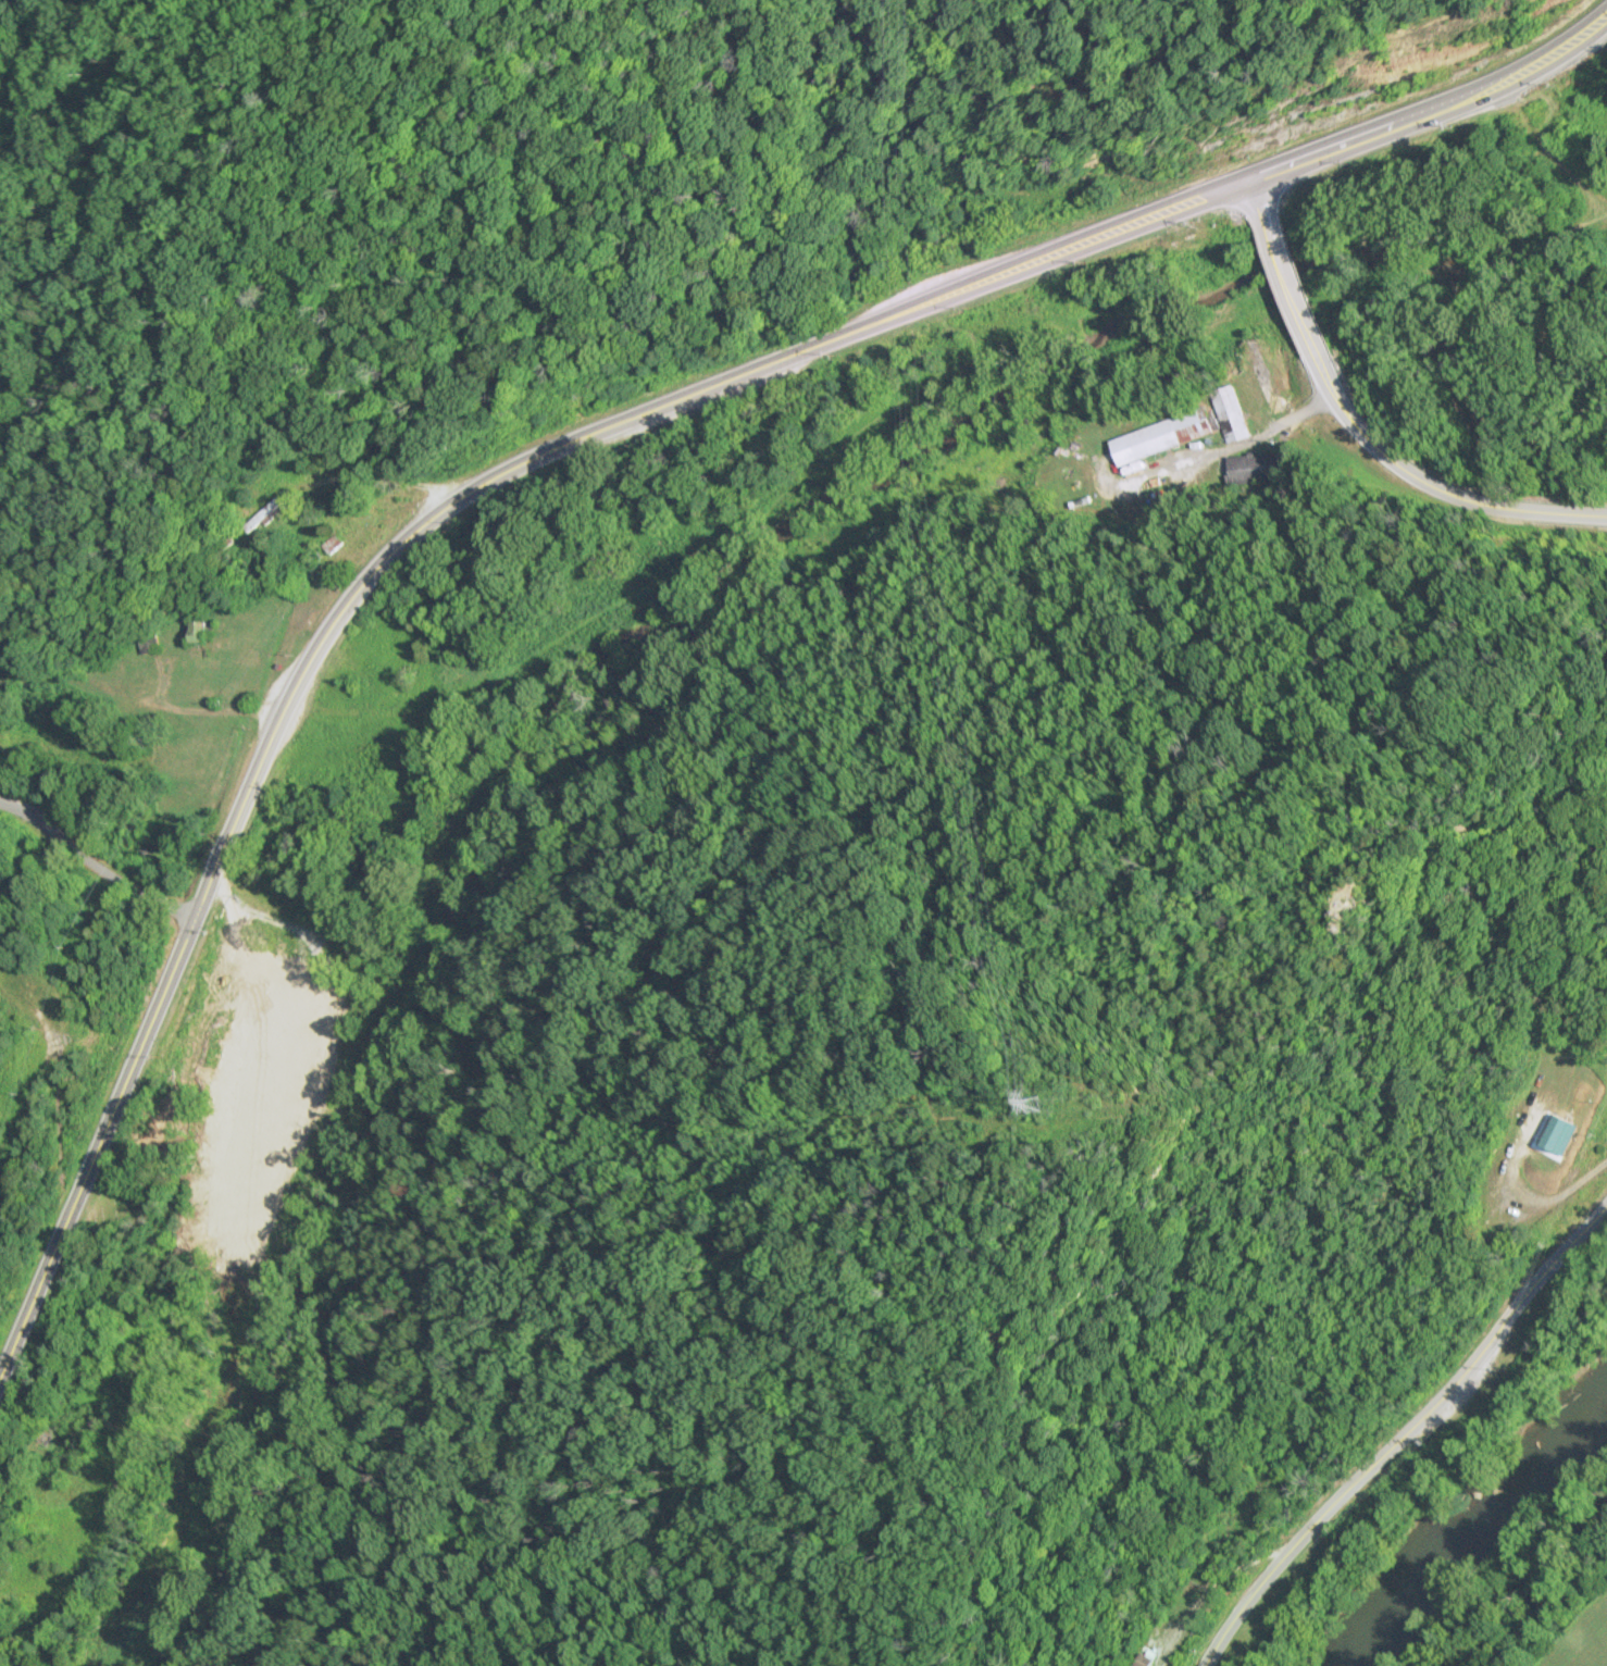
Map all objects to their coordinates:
road: (1255, 195)
road: (1288, 283)
building: (1230, 413)
building: (1161, 436)
road: (570, 438)
building: (1254, 469)
road: (1431, 485)
building: (265, 513)
building: (332, 544)
river: (658, 630)
building: (200, 631)
building: (149, 645)
road: (92, 865)
power tower: (1034, 1102)
building: (1034, 1114)
building: (1558, 1135)
park: (116, 1219)
power tower: (310, 1245)
road: (1404, 1434)
river: (1477, 1521)
road: (1533, 1583)
park: (1531, 1594)
building: (1143, 1659)

